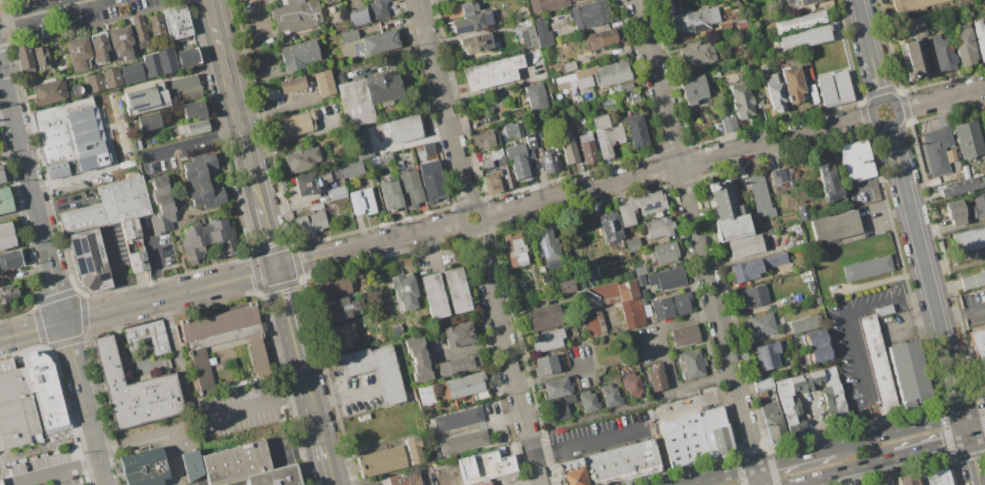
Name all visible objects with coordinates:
road: (2, 0)
building: (571, 0)
building: (330, 1)
building: (798, 1)
building: (545, 4)
building: (911, 4)
building: (377, 9)
road: (47, 12)
parking lot: (68, 14)
building: (588, 14)
building: (294, 15)
building: (356, 16)
building: (470, 17)
rooftop solar panel: (487, 17)
building: (690, 19)
building: (799, 21)
building: (175, 22)
rooftop solar panel: (476, 24)
road: (94, 25)
building: (156, 25)
building: (338, 26)
rooftop solar panel: (460, 29)
building: (139, 31)
building: (541, 32)
building: (349, 35)
building: (603, 36)
building: (805, 36)
building: (528, 37)
rooftop solar panel: (525, 38)
building: (979, 38)
building: (120, 41)
building: (379, 42)
building: (474, 43)
building: (964, 45)
building: (98, 47)
road: (870, 50)
building: (915, 51)
building: (77, 52)
building: (942, 53)
building: (695, 54)
building: (297, 55)
building: (40, 56)
building: (187, 57)
building: (23, 59)
building: (158, 62)
building: (567, 66)
building: (491, 72)
building: (130, 73)
building: (714, 73)
building: (594, 76)
building: (101, 79)
building: (323, 82)
building: (291, 84)
building: (791, 84)
building: (834, 88)
building: (183, 89)
building: (692, 89)
building: (48, 92)
building: (628, 92)
building: (773, 92)
rooftop solar panel: (133, 94)
building: (366, 96)
building: (535, 97)
road: (941, 98)
building: (144, 99)
building: (498, 99)
building: (740, 100)
building: (756, 101)
road: (444, 103)
rooftop solar panel: (136, 104)
road: (236, 104)
road: (896, 108)
rooftop solar panel: (144, 109)
building: (192, 109)
building: (984, 120)
building: (147, 121)
building: (294, 123)
building: (728, 124)
building: (193, 127)
building: (403, 128)
building: (512, 129)
building: (635, 130)
building: (605, 135)
building: (69, 137)
building: (482, 139)
building: (966, 139)
building: (530, 141)
rooftop solar panel: (598, 141)
building: (360, 142)
building: (586, 147)
building: (428, 148)
building: (936, 149)
building: (567, 150)
building: (488, 157)
building: (300, 159)
building: (383, 159)
building: (549, 159)
building: (516, 160)
building: (855, 160)
building: (397, 164)
rooftop solar panel: (544, 165)
road: (679, 165)
rooftop solar panel: (554, 166)
building: (350, 169)
rooftop solar panel: (780, 174)
building: (778, 176)
building: (1, 177)
road: (68, 179)
building: (201, 180)
building: (313, 180)
building: (431, 180)
building: (828, 180)
building: (496, 181)
rooftop solar panel: (826, 182)
building: (961, 186)
building: (409, 187)
building: (336, 193)
road: (32, 194)
building: (389, 194)
building: (758, 195)
rooftop solar panel: (834, 196)
building: (4, 200)
building: (361, 201)
building: (977, 204)
building: (160, 206)
building: (639, 206)
road: (910, 206)
building: (106, 207)
rooftop solar panel: (651, 207)
building: (726, 210)
road: (17, 212)
building: (803, 212)
building: (954, 212)
road: (484, 215)
building: (308, 223)
building: (608, 226)
building: (658, 226)
building: (834, 226)
building: (5, 235)
building: (206, 238)
road: (272, 238)
rooftop solar panel: (540, 238)
building: (969, 239)
road: (26, 241)
road: (699, 242)
road: (370, 244)
building: (632, 244)
building: (132, 245)
rooftop solar panel: (550, 245)
building: (743, 245)
rooftop solar panel: (71, 247)
rooftop solar panel: (80, 248)
rooftop solar panel: (541, 248)
building: (548, 248)
building: (515, 250)
building: (663, 252)
building: (10, 260)
building: (87, 260)
rooftop solar panel: (86, 263)
road: (157, 264)
rooftop solar panel: (552, 264)
rooftop solar panel: (77, 265)
traffic signals: (280, 267)
building: (754, 267)
building: (638, 268)
building: (866, 268)
road: (114, 269)
rooftop solar panel: (105, 277)
building: (665, 278)
road: (161, 279)
building: (639, 279)
building: (973, 280)
road: (222, 282)
building: (333, 286)
building: (565, 286)
building: (456, 289)
building: (403, 290)
building: (7, 292)
building: (433, 295)
building: (753, 295)
road: (56, 296)
building: (585, 298)
building: (621, 299)
road: (888, 301)
road: (144, 302)
building: (670, 306)
building: (342, 307)
road: (976, 311)
road: (84, 315)
road: (94, 315)
building: (544, 317)
road: (293, 318)
road: (953, 318)
building: (591, 322)
building: (761, 324)
building: (805, 324)
road: (39, 326)
building: (396, 329)
road: (32, 331)
building: (458, 334)
building: (344, 335)
building: (684, 335)
building: (813, 337)
building: (131, 338)
building: (221, 340)
building: (546, 340)
road: (67, 341)
road: (48, 349)
building: (980, 349)
road: (24, 353)
building: (818, 353)
building: (767, 355)
road: (855, 355)
road: (508, 357)
rooftop solar panel: (771, 357)
road: (180, 358)
building: (417, 358)
road: (668, 359)
rooftop solar panel: (761, 359)
building: (691, 363)
building: (457, 364)
building: (544, 365)
building: (881, 368)
building: (374, 370)
building: (914, 373)
building: (657, 379)
building: (762, 383)
building: (464, 384)
building: (631, 385)
building: (555, 387)
road: (955, 387)
building: (134, 390)
road: (310, 392)
building: (426, 395)
building: (610, 396)
road: (343, 397)
building: (587, 401)
road: (257, 402)
road: (85, 403)
road: (699, 404)
building: (17, 408)
road: (104, 409)
building: (556, 412)
building: (836, 412)
traffic signals: (963, 415)
road: (604, 417)
building: (457, 419)
building: (772, 421)
road: (909, 428)
road: (74, 431)
road: (977, 436)
building: (702, 439)
traffic signals: (969, 439)
building: (462, 441)
road: (146, 442)
road: (591, 443)
road: (932, 448)
road: (325, 450)
building: (416, 452)
road: (794, 457)
building: (384, 463)
road: (81, 465)
building: (191, 465)
building: (486, 466)
building: (615, 466)
building: (145, 467)
building: (247, 467)
parking lot: (45, 470)
road: (842, 471)
road: (871, 475)
road: (43, 476)
road: (721, 476)
road: (64, 477)
road: (852, 477)
building: (937, 477)
building: (405, 479)
building: (907, 480)
building: (1, 481)
road: (454, 481)
parking lot: (231, 484)
building: (484, 484)
road: (796, 484)

